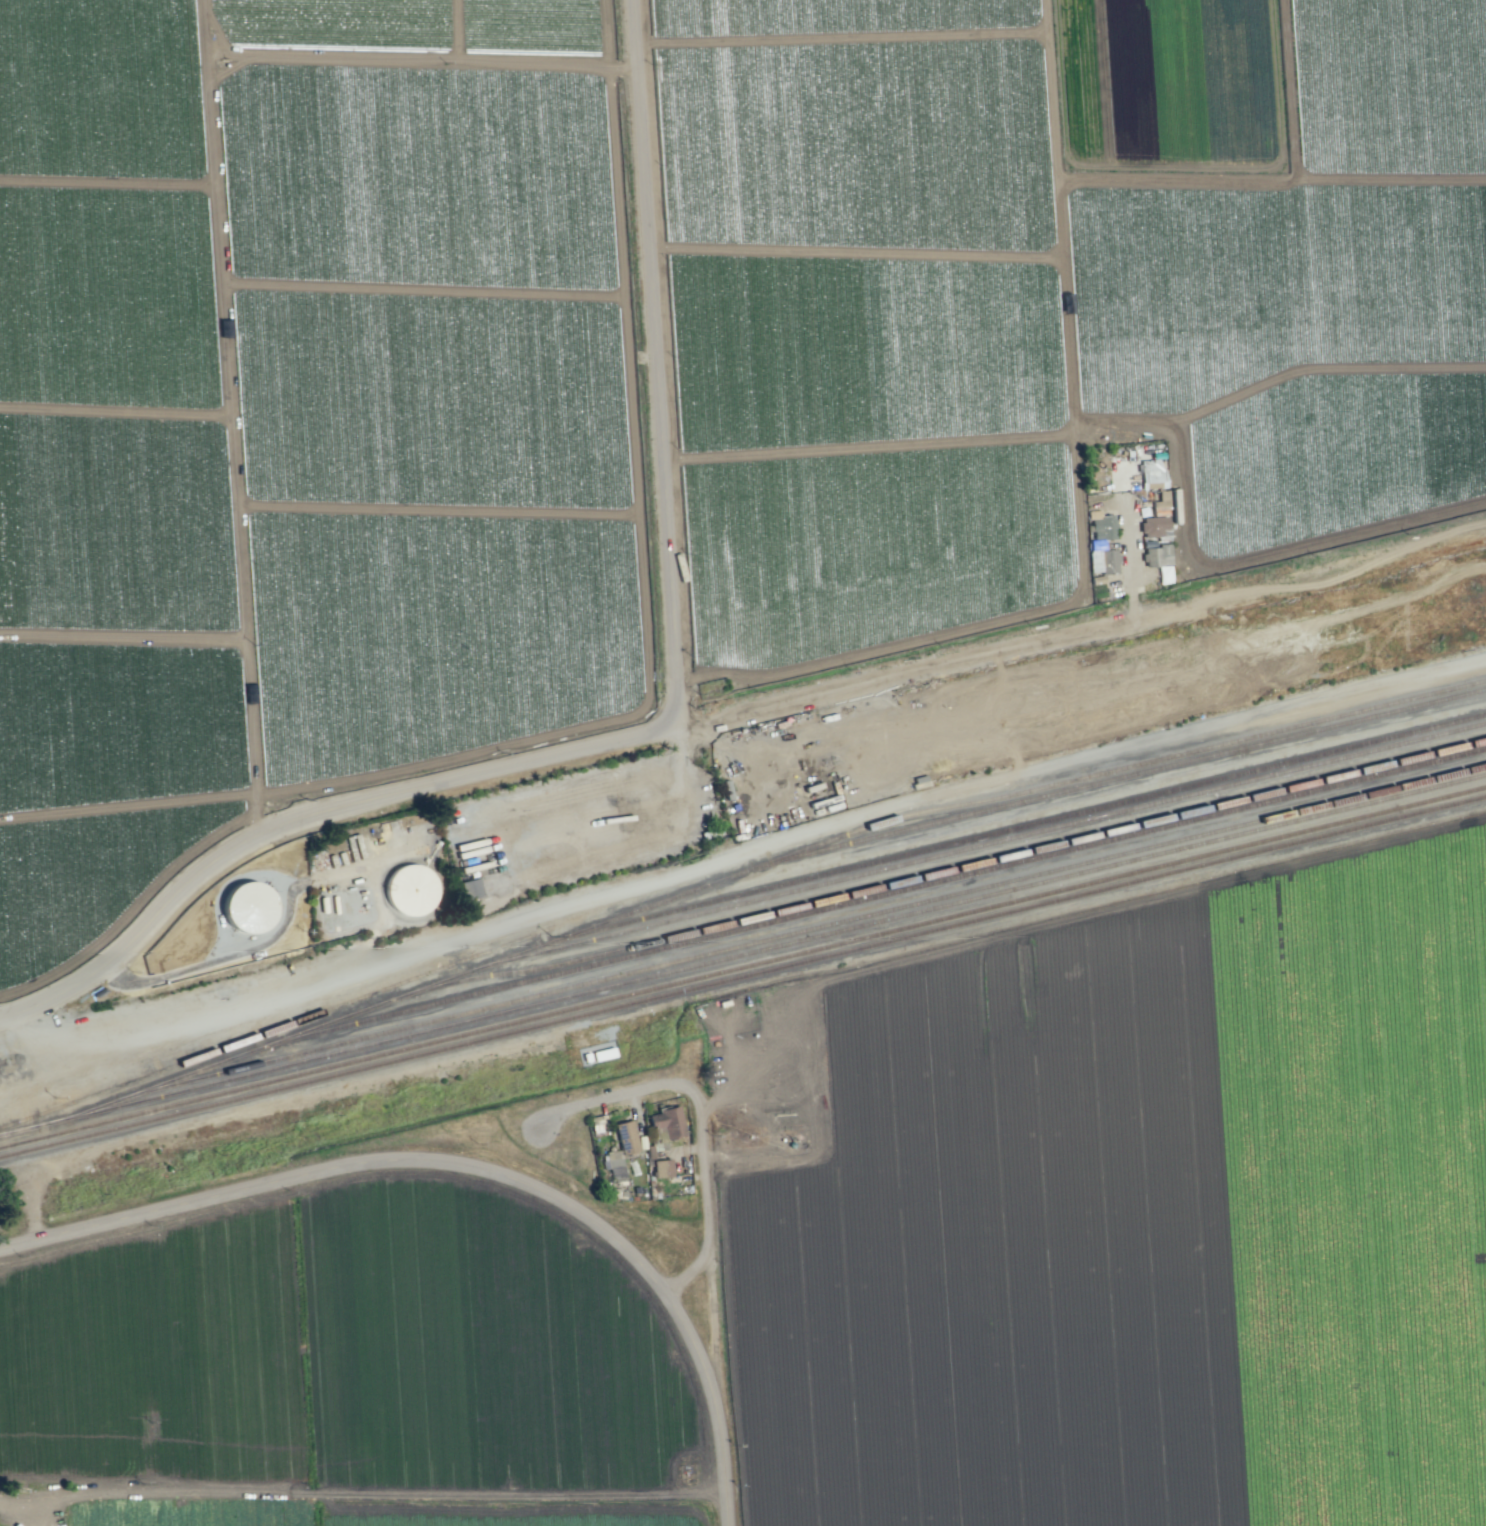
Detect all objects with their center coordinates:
road: (655, 363)
crop: (677, 373)
building: (1152, 474)
building: (1152, 526)
building: (1103, 527)
building: (1093, 559)
building: (1108, 561)
building: (1158, 561)
road: (1131, 563)
road: (1084, 638)
railway: (1139, 764)
railway: (1021, 800)
road: (312, 813)
railway: (996, 833)
railway: (952, 852)
road: (744, 853)
railway: (877, 888)
building: (409, 889)
building: (471, 889)
water tower: (410, 890)
building: (249, 906)
railway: (814, 912)
road: (279, 935)
railway: (754, 942)
railway: (742, 954)
railway: (743, 967)
railway: (742, 975)
railway: (301, 1019)
railway: (2, 1061)
road: (601, 1102)
building: (666, 1125)
railway: (12, 1133)
building: (625, 1137)
road: (471, 1167)
building: (661, 1168)
road: (700, 1187)
crop: (883, 1273)
road: (363, 1495)

